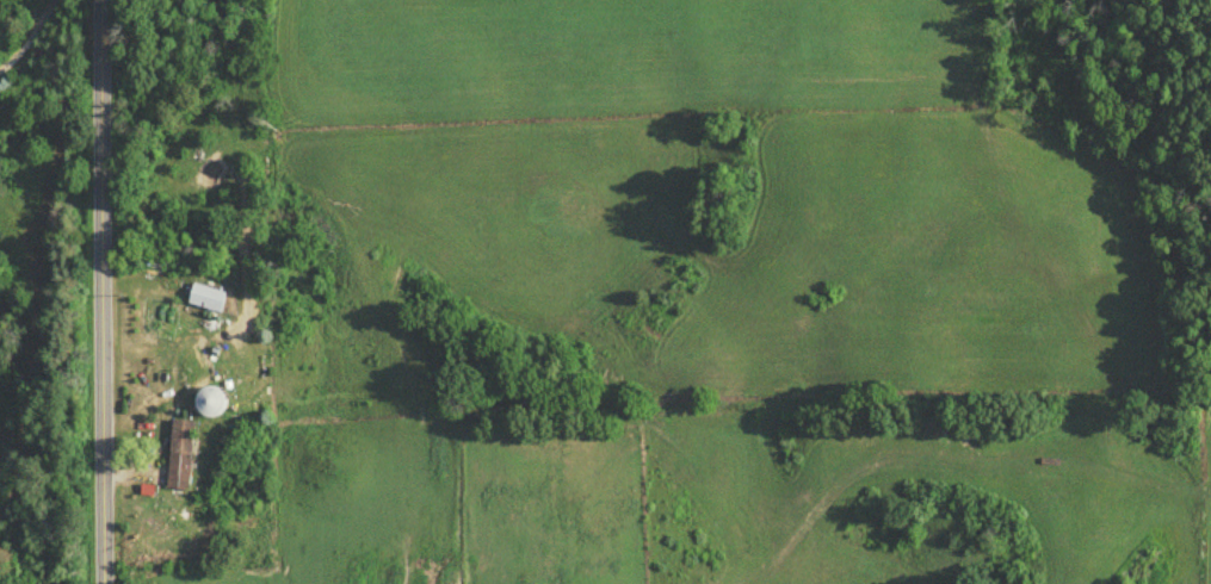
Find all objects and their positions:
road: (32, 38)
road: (101, 292)
building: (205, 304)
road: (697, 367)
building: (179, 460)

